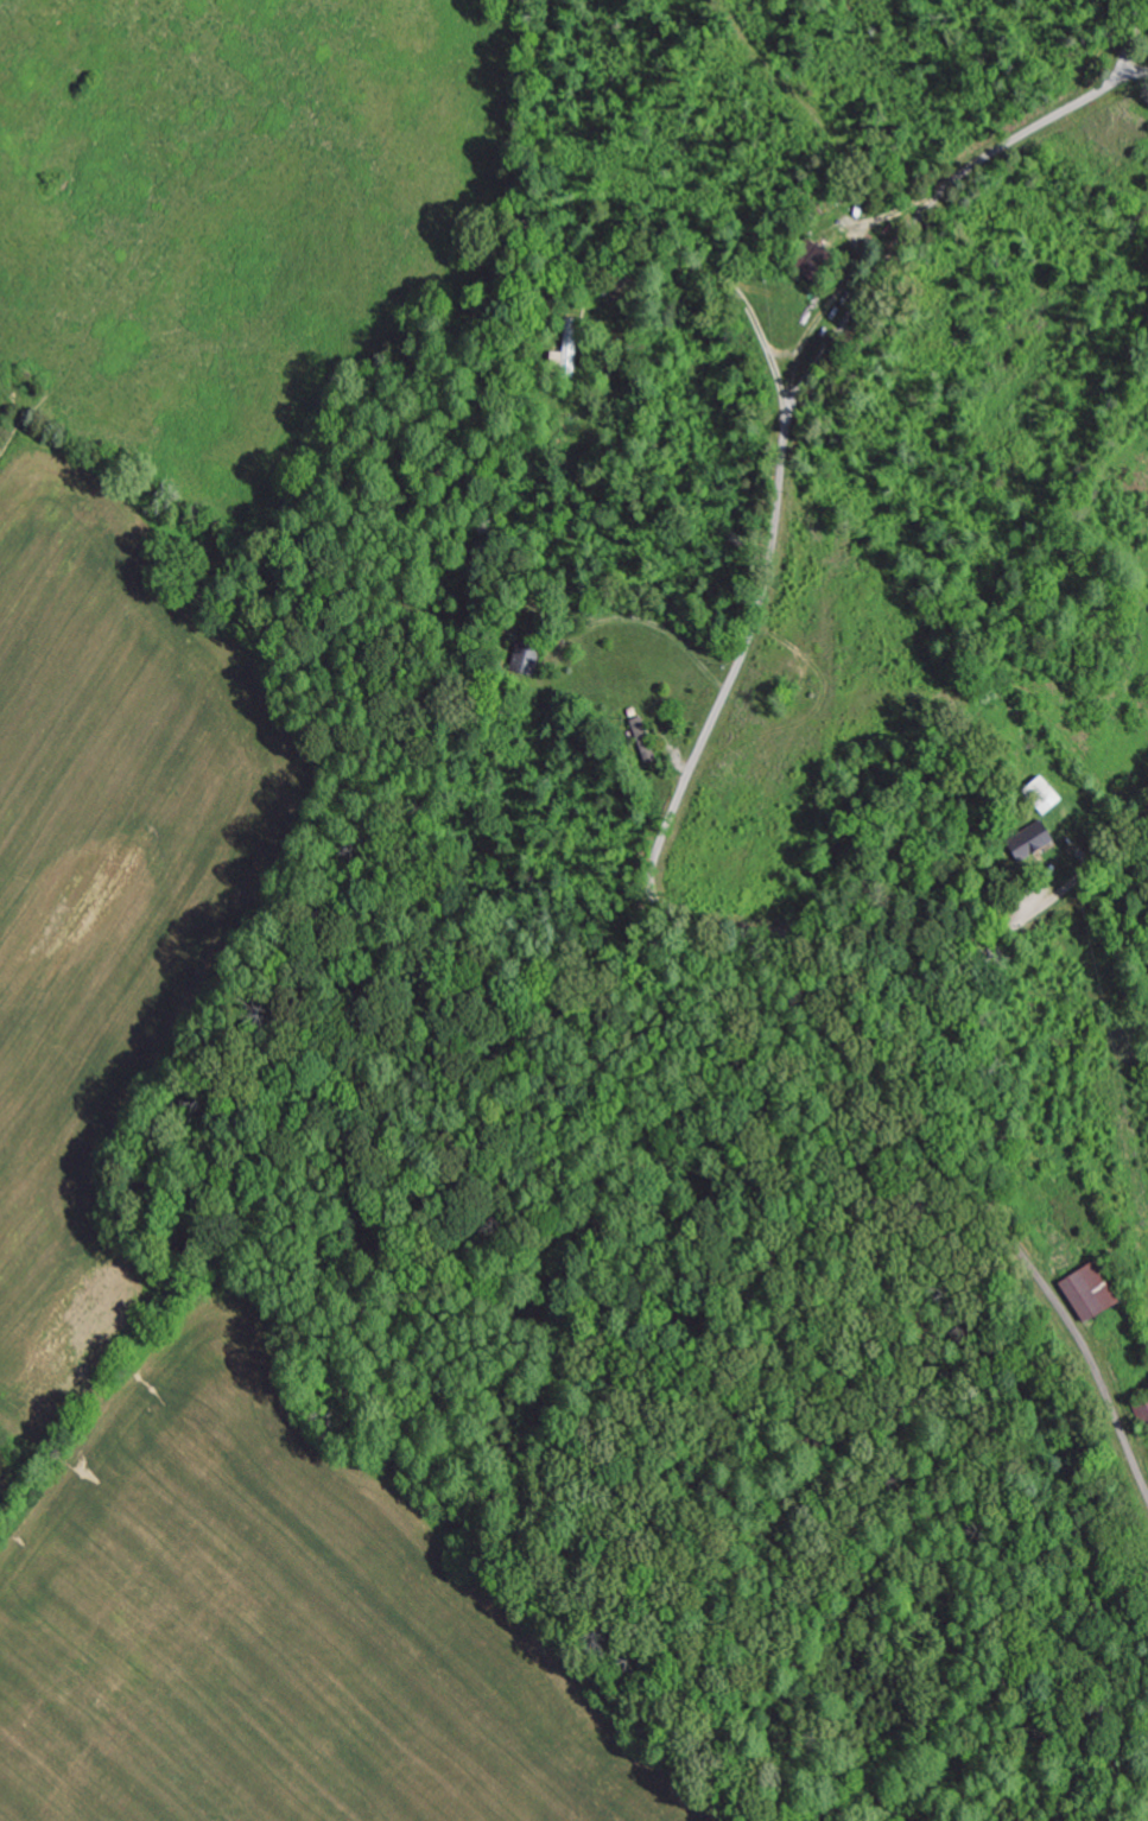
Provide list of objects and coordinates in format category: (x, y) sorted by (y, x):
road: (762, 591)
building: (1042, 794)
building: (1030, 840)
road: (1040, 908)
road: (1021, 1252)
building: (1087, 1289)

